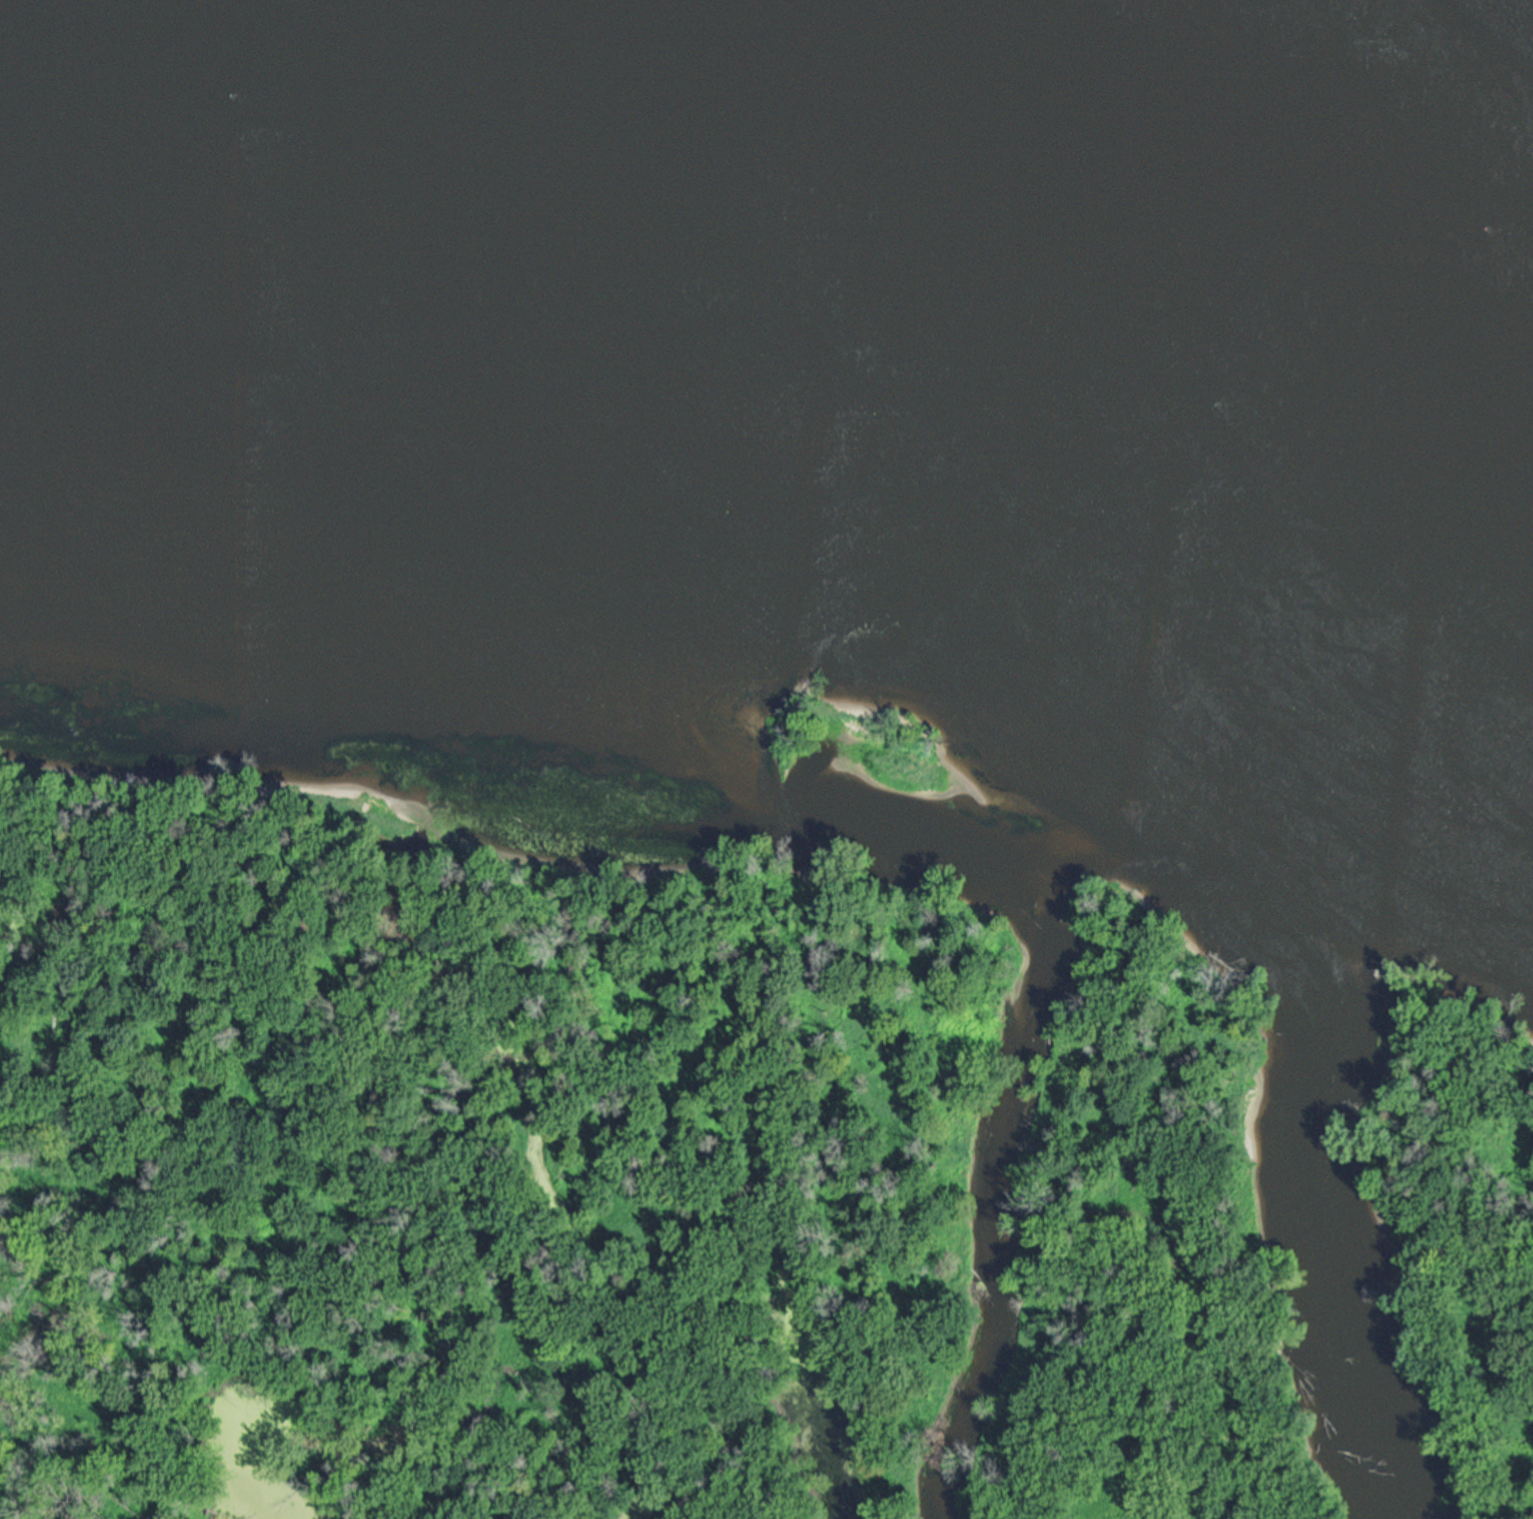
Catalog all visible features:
river: (769, 315)

